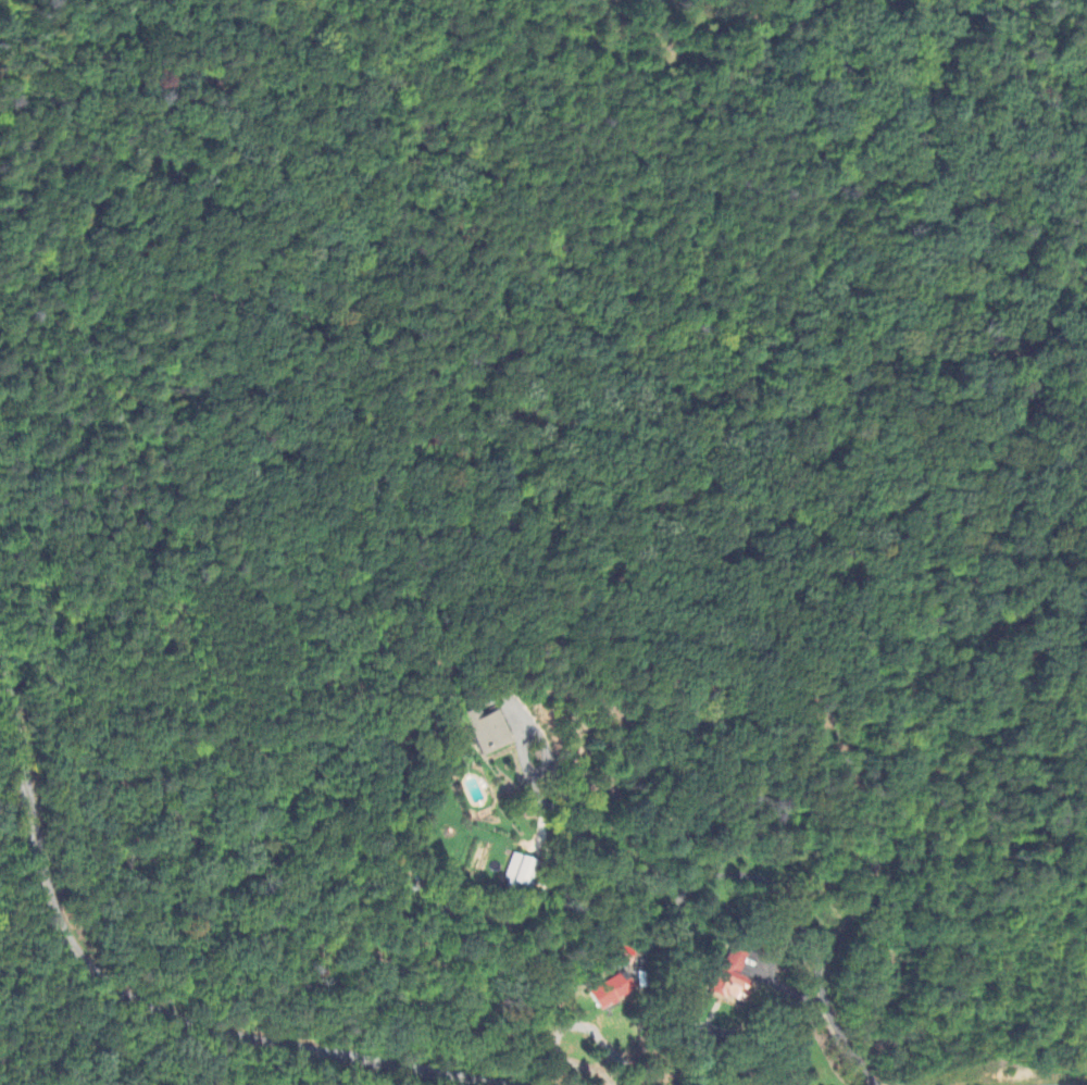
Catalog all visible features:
building: (483, 733)
road: (529, 733)
road: (852, 791)
building: (516, 872)
road: (750, 876)
road: (665, 924)
road: (782, 953)
building: (730, 980)
building: (608, 994)
road: (128, 998)
road: (747, 1024)

